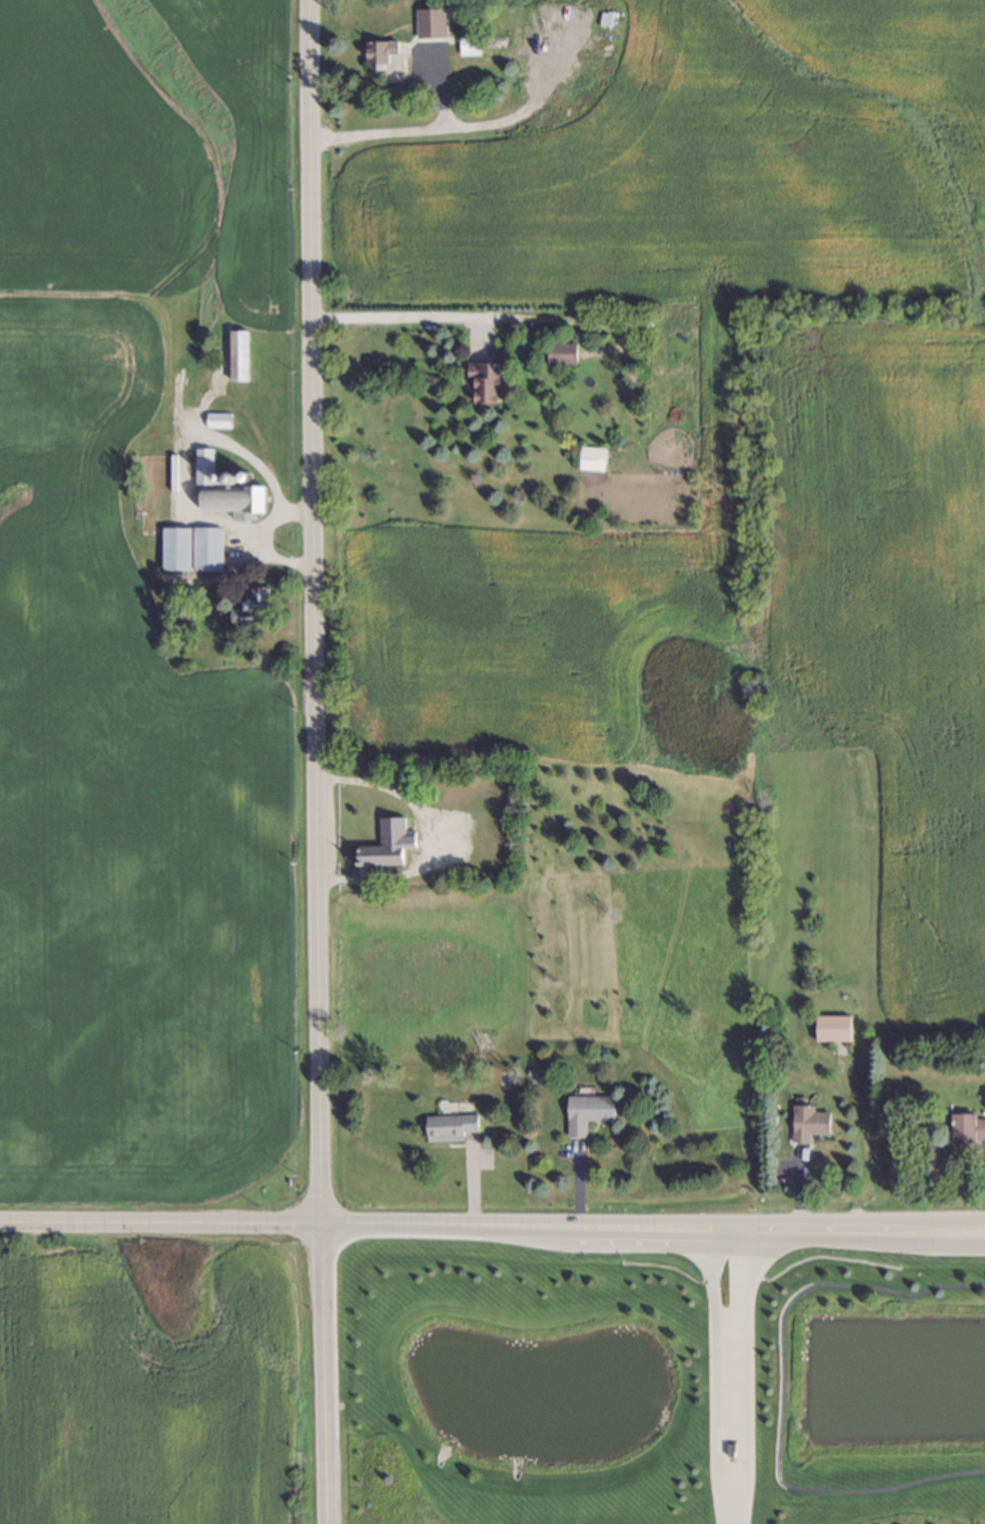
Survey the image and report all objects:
building: (425, 28)
building: (465, 41)
building: (377, 53)
road: (373, 132)
road: (405, 317)
building: (556, 351)
building: (235, 355)
building: (479, 378)
building: (216, 419)
building: (588, 457)
building: (202, 462)
building: (243, 475)
building: (215, 476)
building: (227, 476)
building: (234, 498)
road: (261, 537)
building: (174, 548)
building: (205, 548)
building: (250, 610)
road: (311, 762)
road: (424, 834)
building: (384, 844)
building: (829, 1025)
building: (528, 1074)
building: (509, 1082)
building: (583, 1110)
building: (805, 1120)
building: (446, 1124)
building: (965, 1127)
road: (158, 1223)
road: (949, 1223)
road: (615, 1226)
road: (949, 1234)
road: (726, 1375)
road: (774, 1388)

